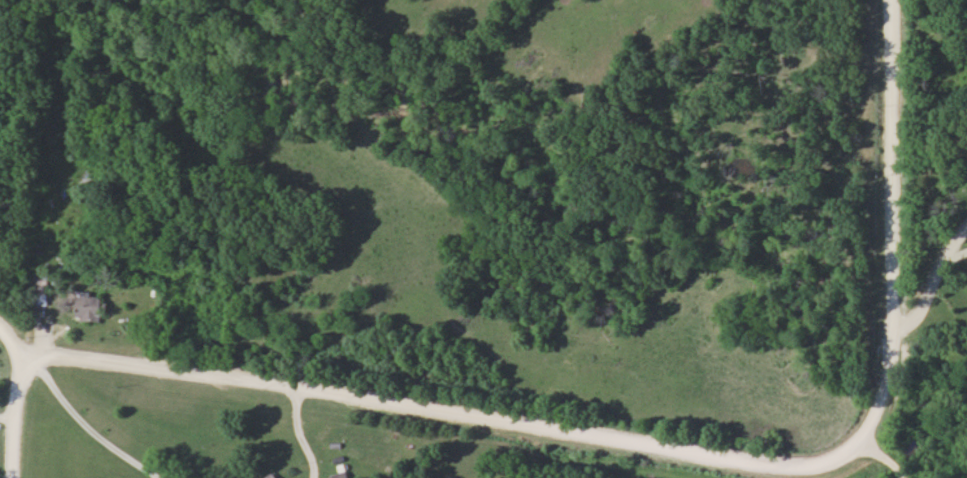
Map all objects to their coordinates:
road: (951, 239)
road: (953, 253)
building: (39, 289)
road: (919, 301)
building: (94, 306)
road: (8, 337)
road: (13, 415)
road: (6, 418)
road: (79, 425)
road: (295, 431)
road: (661, 445)
road: (883, 457)
building: (342, 475)
building: (276, 476)

